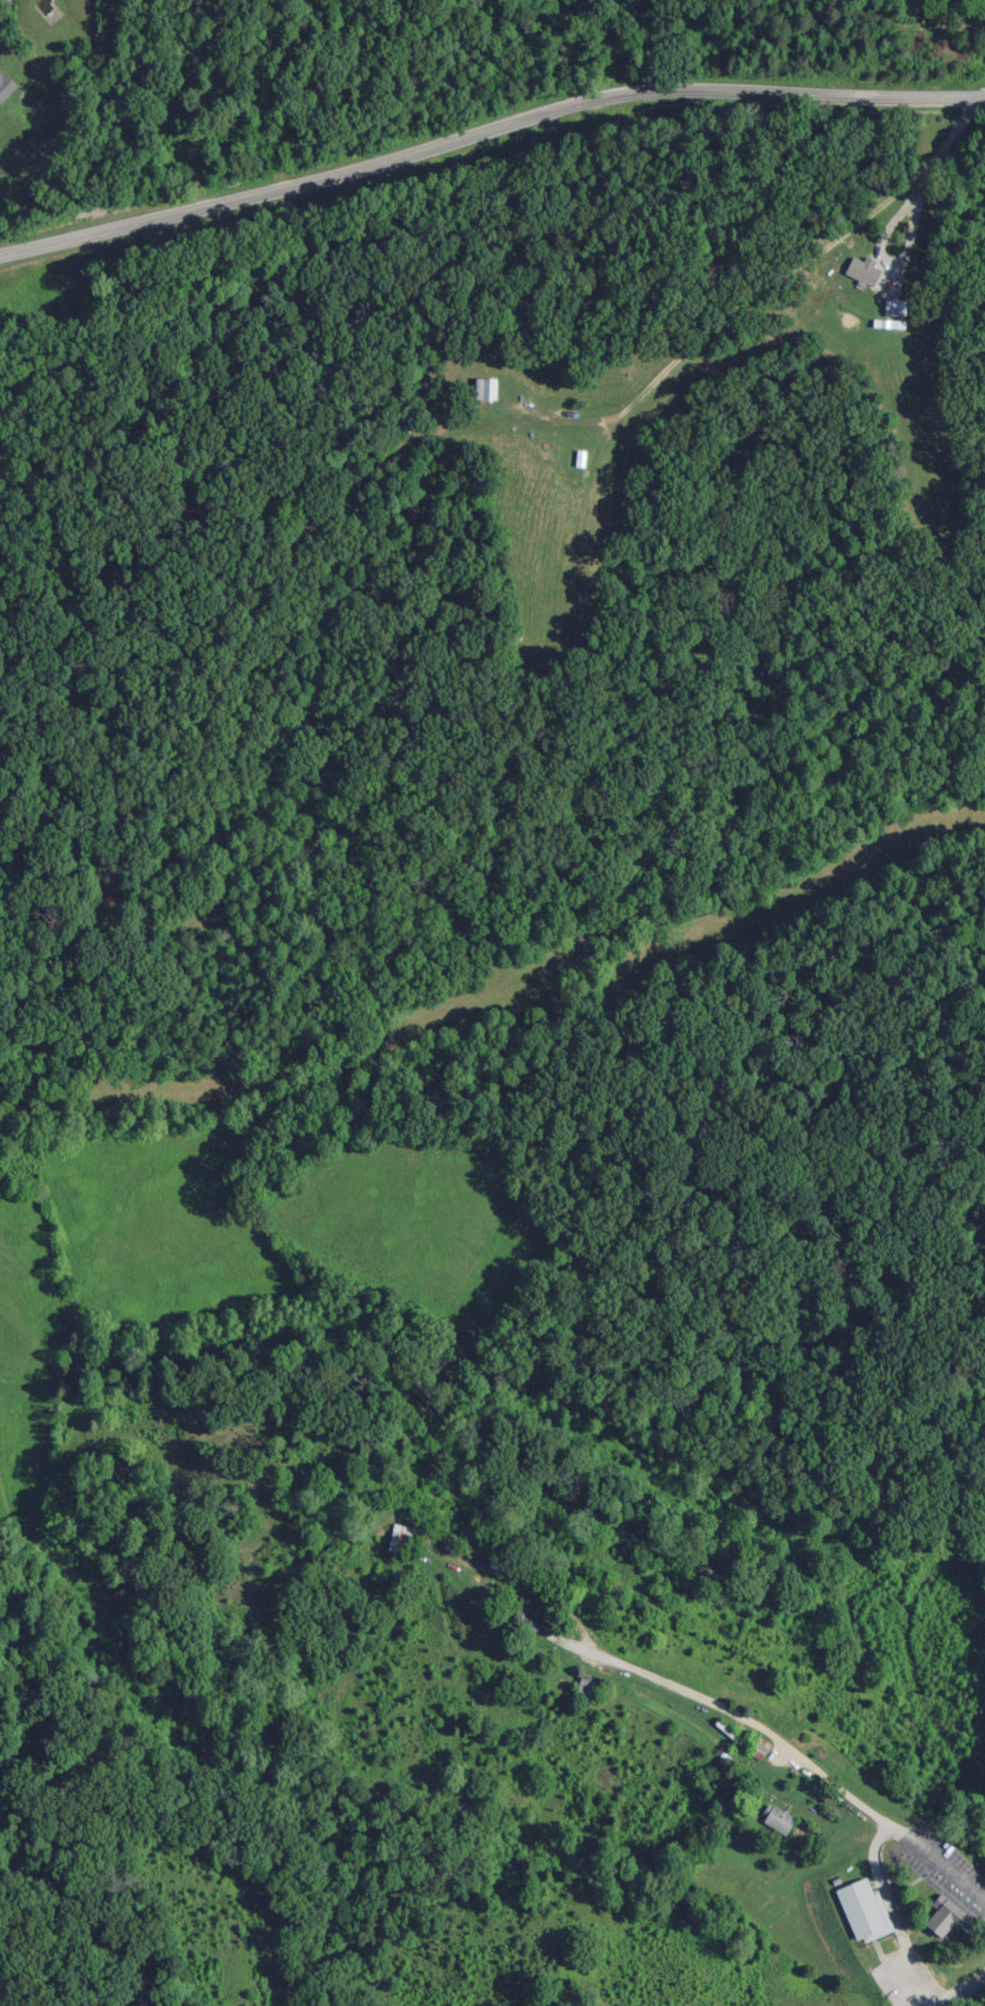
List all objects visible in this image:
building: (6, 87)
road: (812, 103)
road: (318, 170)
road: (900, 210)
road: (820, 255)
building: (867, 270)
building: (897, 306)
building: (489, 387)
building: (581, 457)
building: (403, 1539)
building: (593, 1686)
building: (759, 1749)
road: (812, 1776)
building: (782, 1819)
building: (867, 1908)
building: (950, 1915)
road: (968, 1992)
building: (520, 2004)

